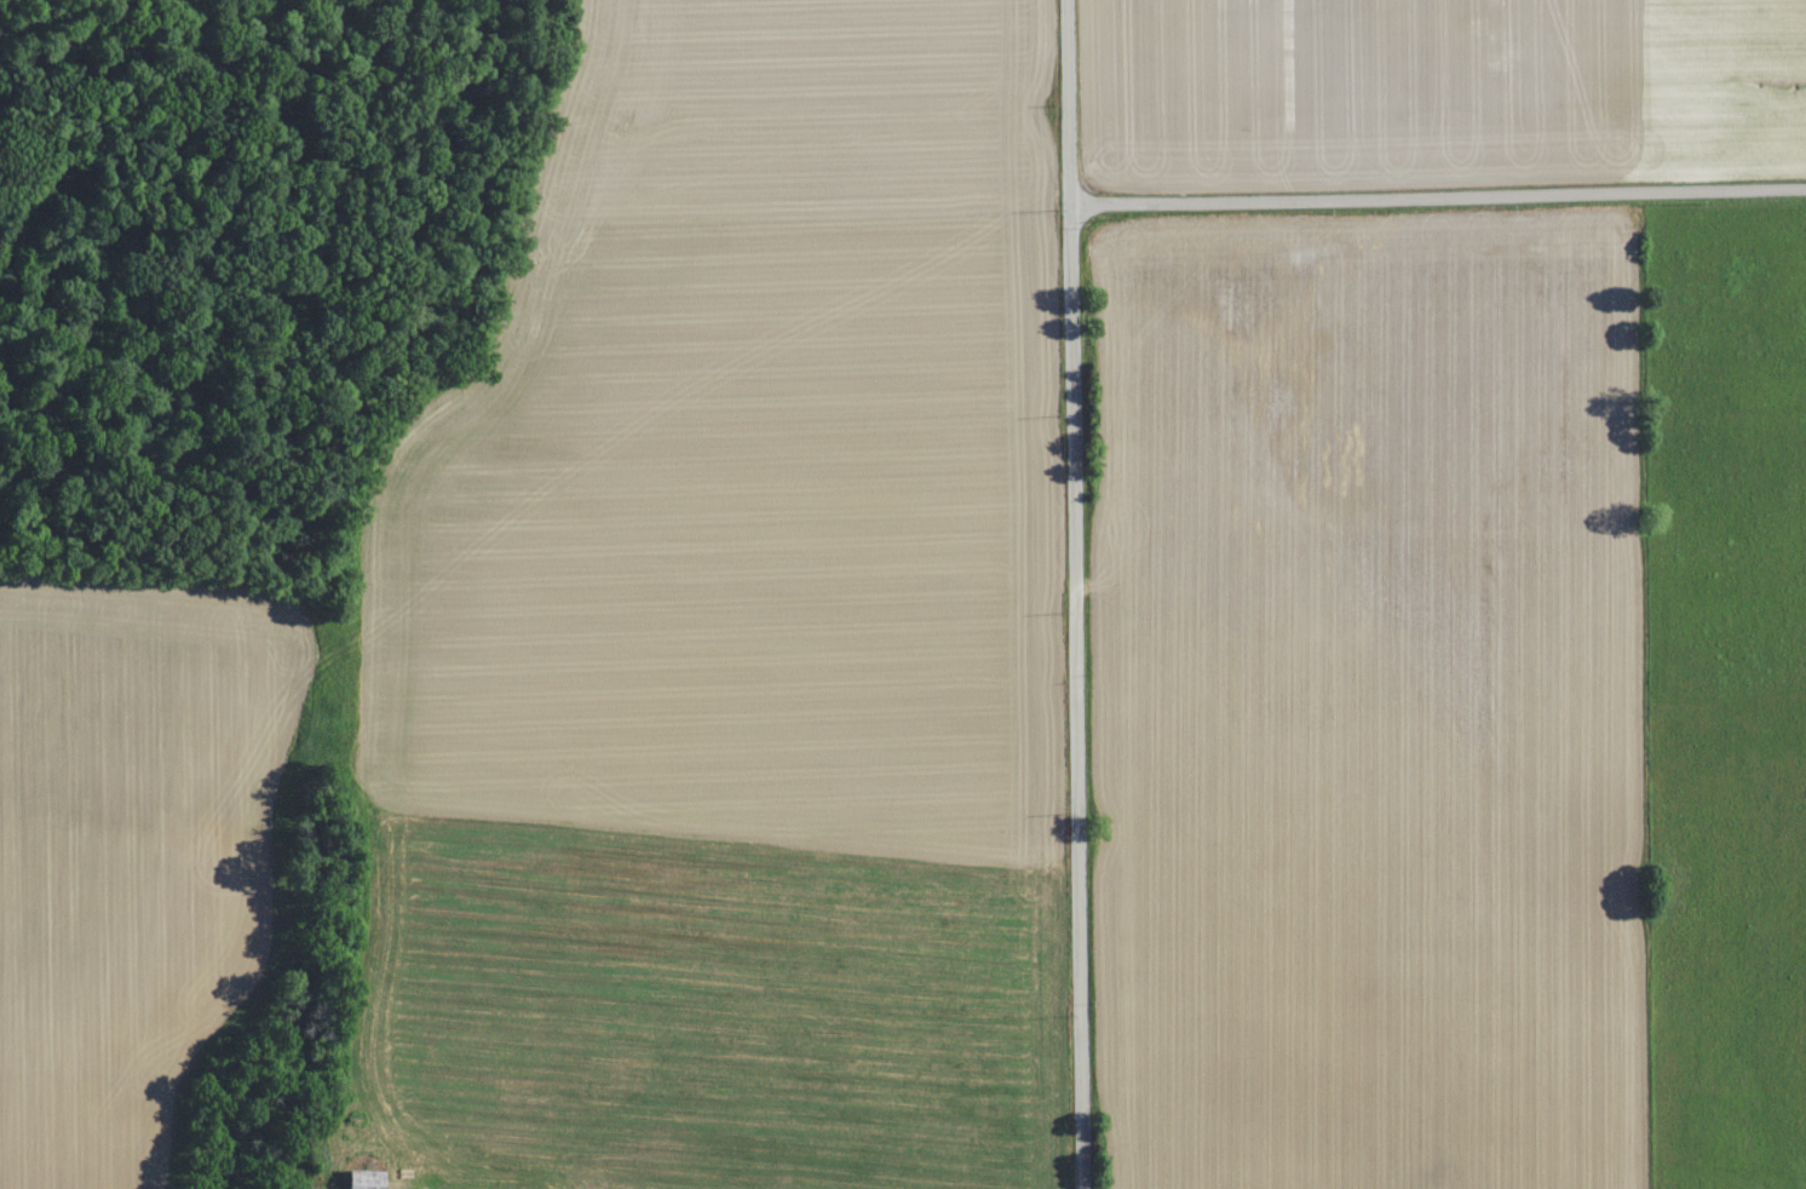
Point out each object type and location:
road: (1437, 199)
road: (1071, 594)

